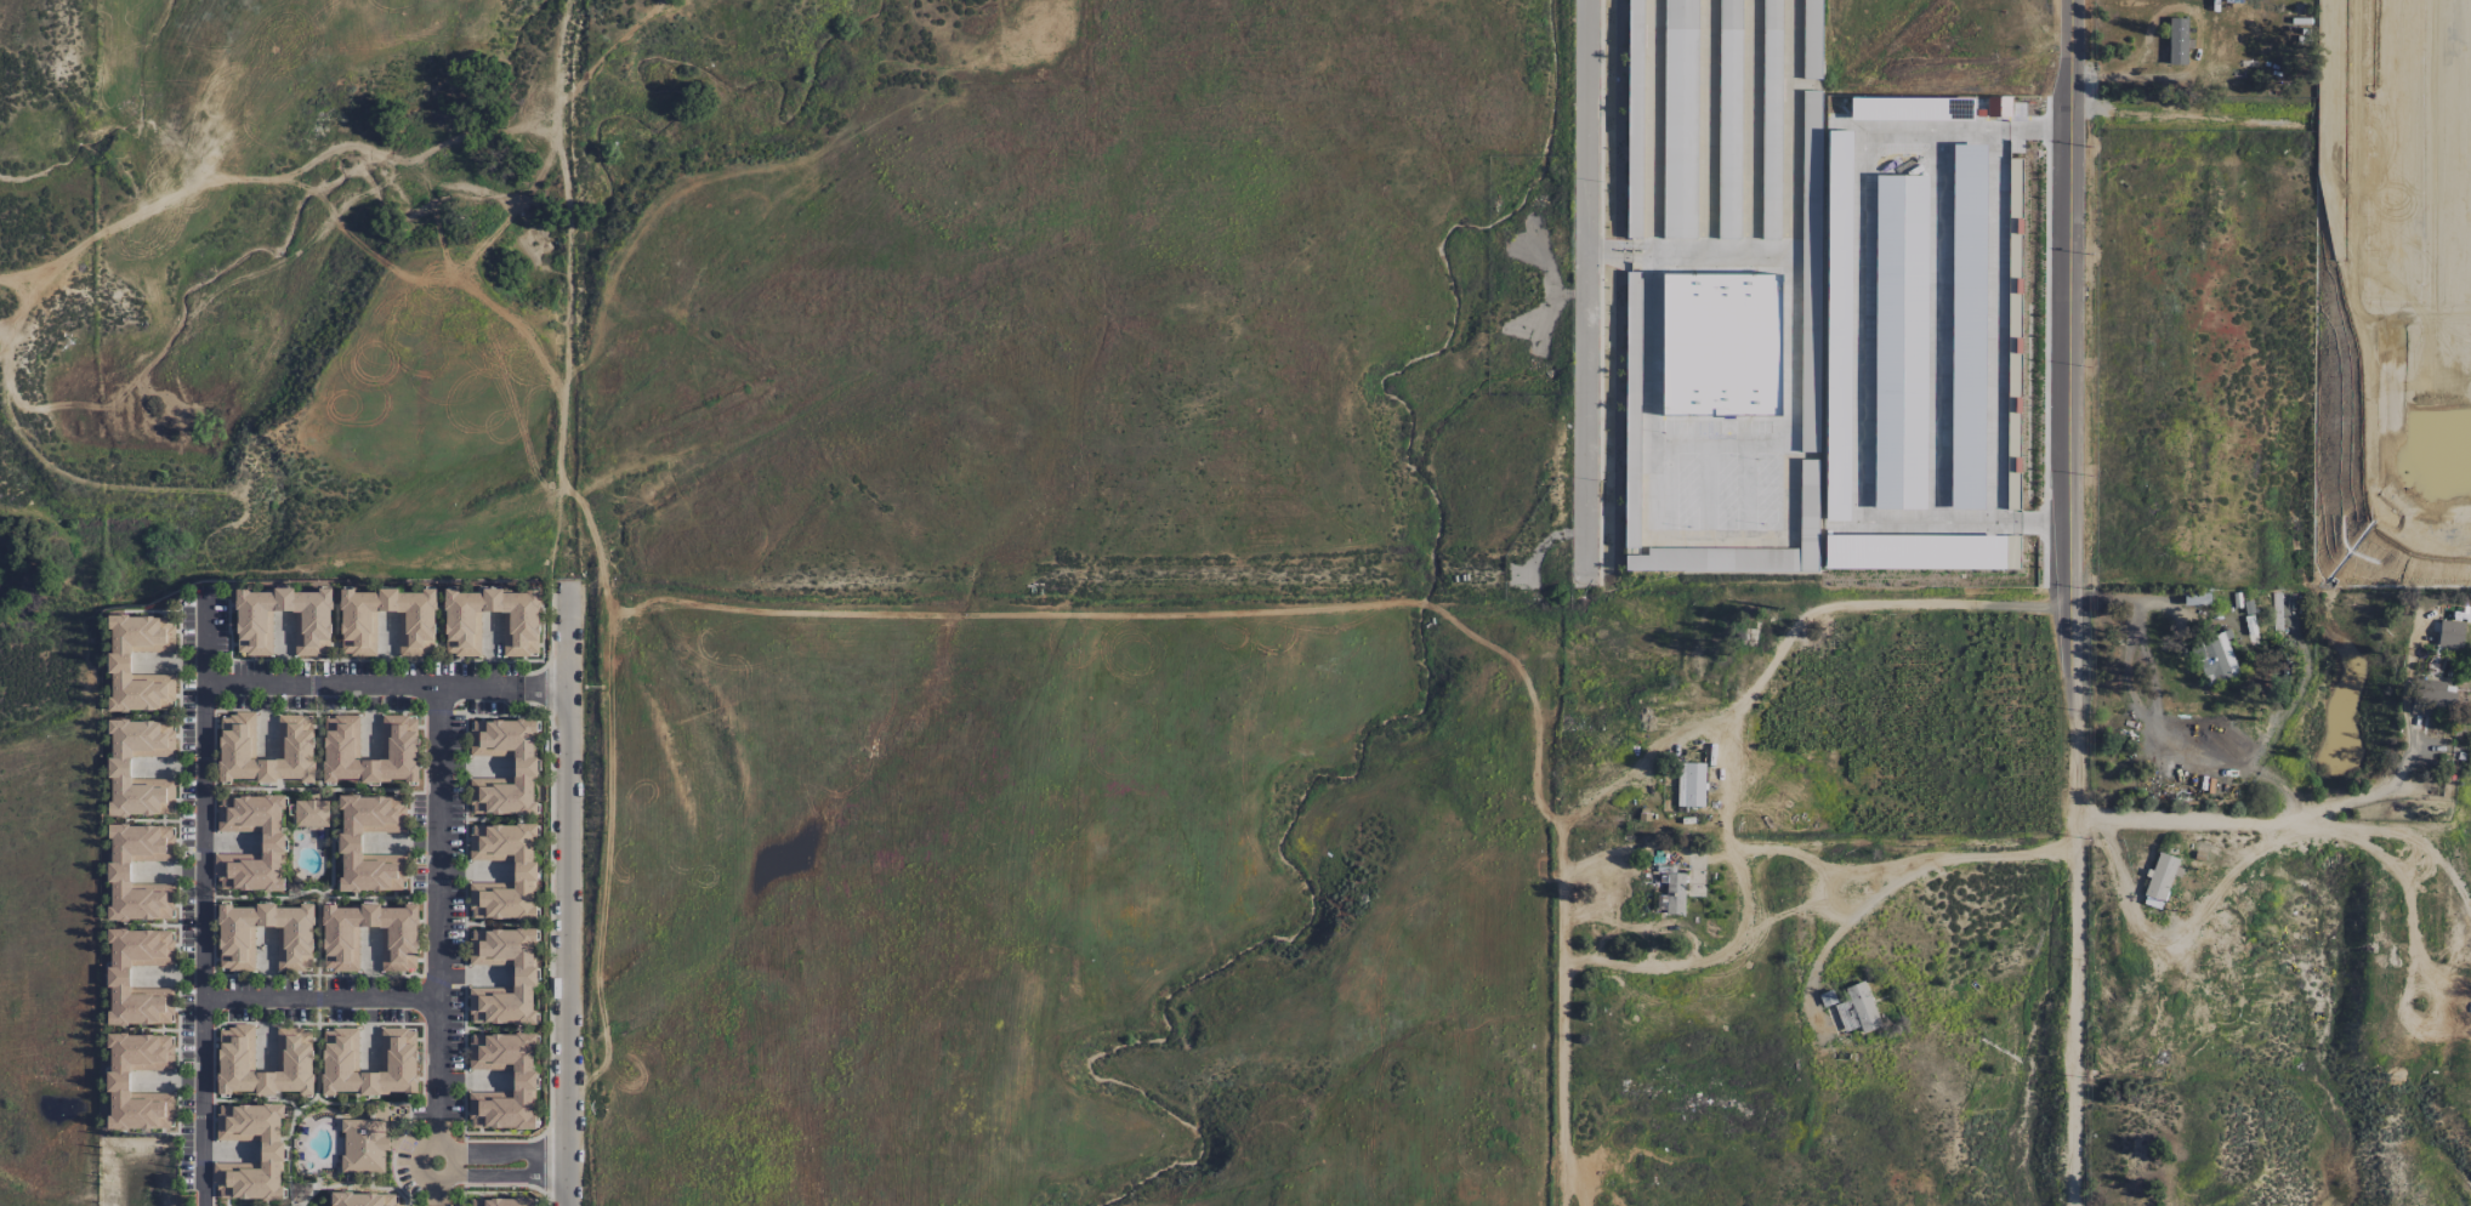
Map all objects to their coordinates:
building: (2177, 41)
road: (2191, 116)
road: (1706, 129)
road: (1750, 129)
building: (1680, 181)
road: (1688, 258)
road: (1586, 289)
road: (1719, 443)
road: (1706, 490)
road: (1745, 491)
road: (15, 513)
road: (1719, 539)
building: (1801, 562)
road: (2087, 603)
road: (157, 609)
building: (313, 620)
building: (464, 620)
building: (417, 630)
road: (1791, 632)
road: (335, 633)
building: (2450, 633)
road: (441, 636)
road: (552, 642)
building: (2215, 658)
building: (123, 660)
road: (384, 660)
road: (386, 684)
road: (552, 684)
building: (2432, 699)
road: (152, 715)
road: (2162, 729)
building: (341, 738)
building: (296, 747)
road: (318, 750)
building: (526, 764)
building: (119, 766)
road: (1726, 781)
building: (1691, 784)
road: (314, 789)
road: (2373, 792)
building: (312, 812)
road: (493, 818)
road: (152, 819)
road: (2197, 825)
building: (320, 830)
road: (2405, 835)
building: (351, 840)
building: (273, 841)
building: (526, 867)
road: (1915, 869)
building: (119, 870)
building: (1672, 889)
road: (1749, 889)
road: (180, 893)
road: (320, 893)
road: (365, 895)
road: (567, 898)
road: (204, 906)
road: (439, 912)
road: (551, 918)
road: (465, 922)
road: (493, 922)
road: (152, 923)
road: (1839, 929)
road: (318, 933)
building: (295, 944)
building: (341, 944)
road: (424, 963)
building: (119, 974)
building: (526, 974)
road: (322, 992)
building: (1859, 1007)
road: (1563, 1014)
road: (490, 1026)
road: (150, 1029)
road: (422, 1053)
building: (341, 1059)
building: (294, 1060)
building: (526, 1076)
building: (119, 1079)
road: (268, 1099)
road: (212, 1113)
building: (303, 1130)
road: (492, 1131)
building: (364, 1144)
building: (272, 1150)
road: (510, 1151)
building: (300, 1153)
road: (415, 1154)
road: (393, 1155)
road: (288, 1159)
road: (550, 1159)
road: (510, 1173)
road: (353, 1183)
road: (501, 1185)
road: (441, 1194)
building: (360, 1198)
building: (509, 1200)

